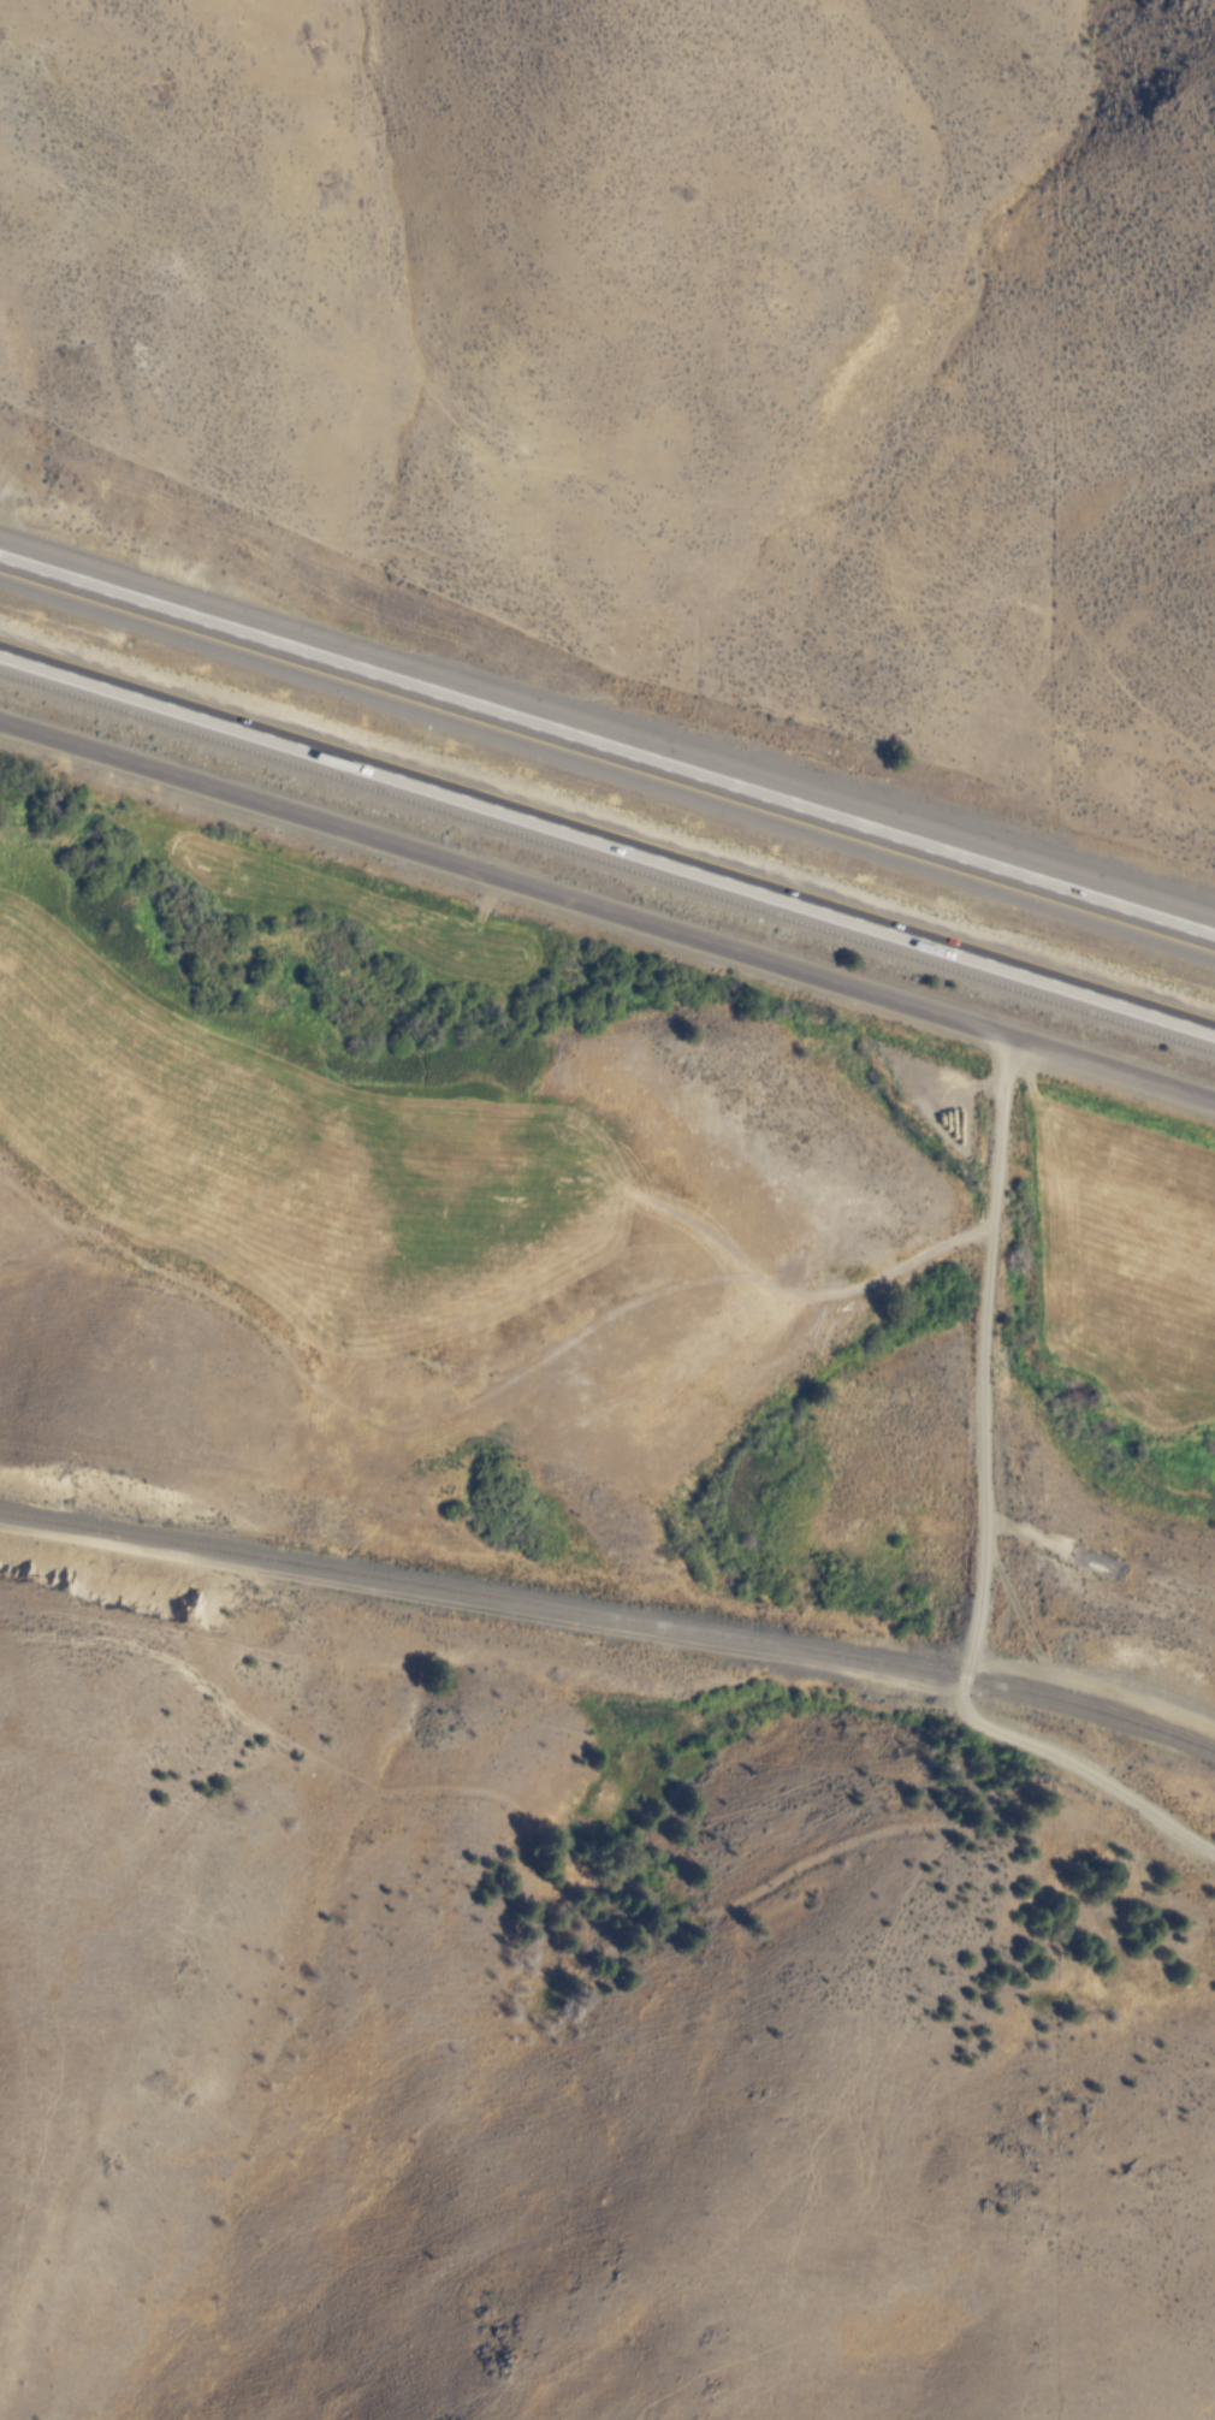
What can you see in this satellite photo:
road: (606, 750)
road: (606, 835)
road: (607, 910)
road: (980, 1520)
railway: (611, 1619)
road: (1092, 1686)

